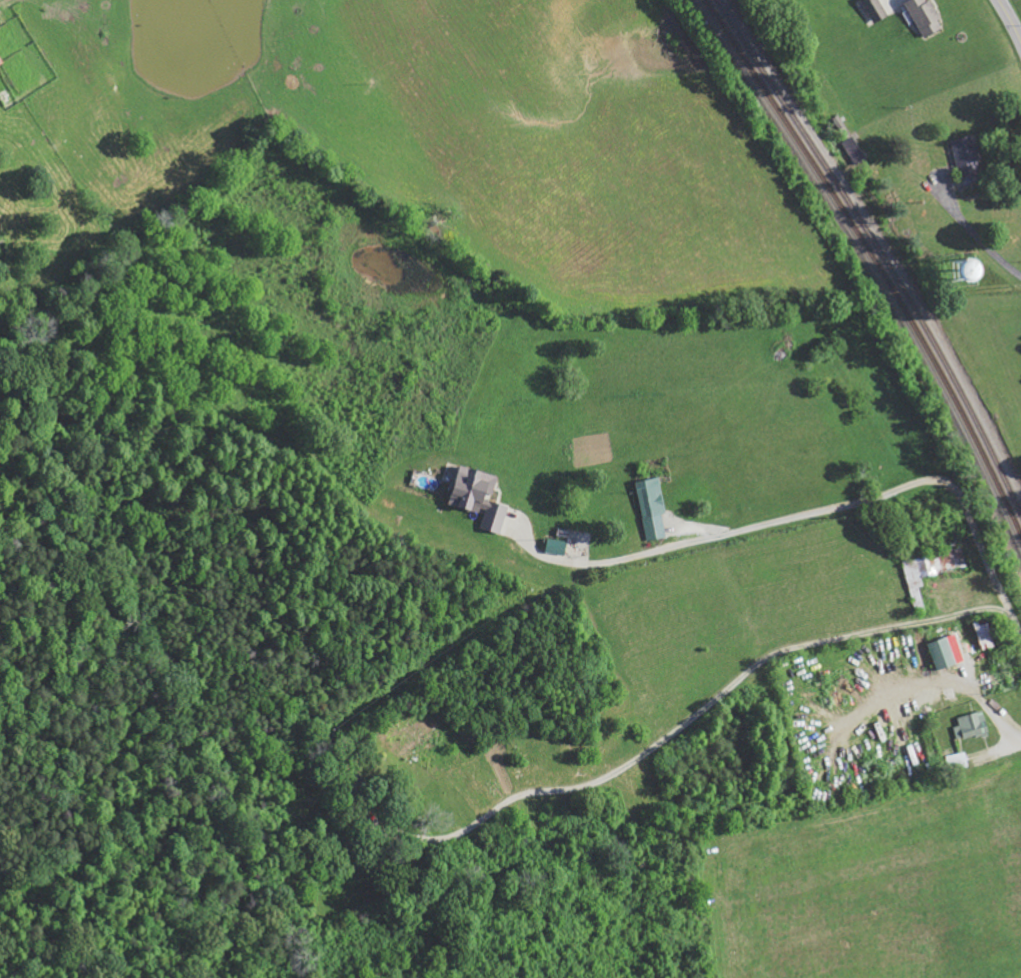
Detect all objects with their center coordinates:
building: (875, 11)
road: (1012, 16)
building: (927, 17)
building: (1, 63)
building: (967, 156)
railway: (879, 249)
railway: (875, 260)
building: (653, 508)
building: (558, 546)
road: (988, 563)
building: (931, 569)
building: (943, 653)
building: (971, 725)

